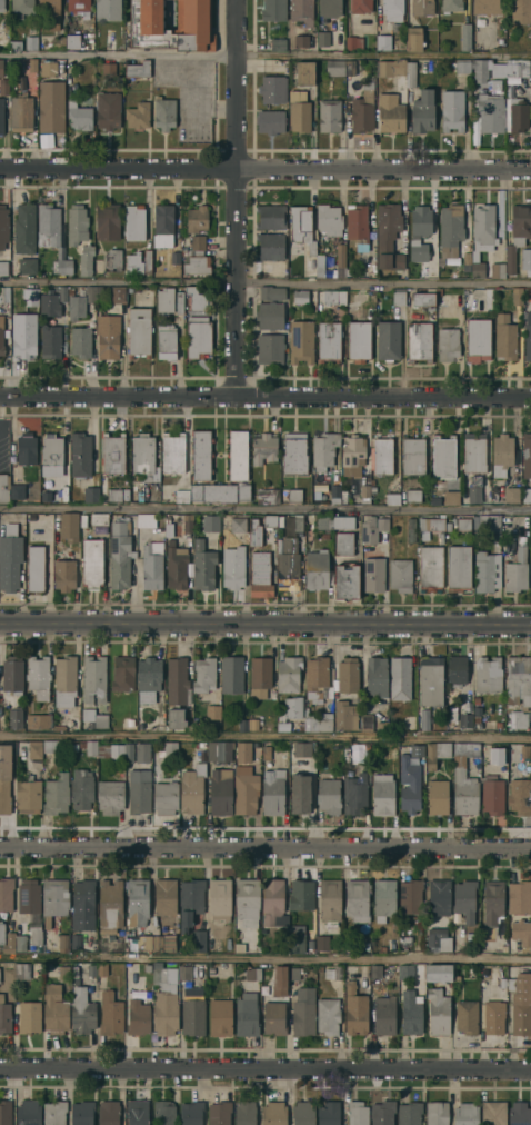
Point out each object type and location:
building: (1, 4)
building: (360, 4)
building: (451, 4)
building: (485, 6)
building: (21, 7)
building: (79, 7)
building: (328, 7)
building: (421, 7)
building: (108, 9)
building: (271, 9)
building: (391, 9)
building: (301, 10)
building: (521, 10)
building: (49, 13)
building: (147, 23)
building: (465, 34)
building: (414, 36)
building: (322, 37)
building: (300, 39)
building: (59, 40)
building: (72, 40)
building: (382, 40)
building: (31, 41)
building: (353, 41)
building: (278, 42)
building: (16, 43)
road: (116, 54)
road: (381, 56)
building: (32, 62)
building: (461, 63)
building: (518, 64)
building: (1, 66)
building: (48, 66)
building: (334, 66)
building: (352, 66)
building: (391, 66)
building: (107, 67)
building: (137, 67)
building: (303, 70)
building: (499, 70)
building: (411, 71)
building: (510, 77)
building: (3, 86)
building: (272, 87)
building: (51, 104)
building: (362, 107)
building: (107, 108)
building: (452, 108)
building: (299, 109)
building: (422, 109)
building: (21, 110)
building: (163, 110)
building: (490, 110)
building: (390, 111)
building: (138, 112)
building: (518, 112)
building: (78, 113)
building: (329, 113)
building: (2, 118)
building: (270, 119)
road: (265, 167)
road: (231, 196)
building: (271, 215)
building: (197, 217)
building: (329, 217)
building: (107, 219)
building: (421, 219)
building: (133, 220)
building: (483, 221)
building: (76, 222)
building: (3, 223)
building: (48, 223)
building: (162, 223)
building: (302, 223)
building: (357, 223)
building: (24, 227)
building: (450, 227)
building: (518, 230)
building: (388, 233)
building: (197, 241)
building: (270, 243)
building: (418, 248)
building: (340, 252)
building: (174, 255)
building: (467, 257)
building: (86, 258)
building: (112, 258)
building: (525, 259)
building: (138, 260)
building: (196, 261)
building: (27, 263)
building: (320, 263)
building: (69, 265)
building: (3, 266)
building: (61, 266)
building: (497, 268)
building: (371, 269)
building: (477, 270)
road: (265, 281)
building: (61, 291)
building: (91, 291)
building: (271, 291)
building: (6, 292)
building: (117, 293)
building: (399, 293)
building: (517, 293)
building: (30, 295)
building: (197, 295)
building: (300, 295)
building: (329, 298)
building: (423, 298)
building: (164, 299)
building: (179, 300)
building: (49, 302)
building: (76, 305)
building: (270, 313)
building: (139, 330)
building: (23, 332)
building: (198, 332)
building: (108, 333)
building: (527, 333)
building: (1, 336)
building: (504, 336)
building: (478, 337)
building: (388, 338)
building: (300, 339)
building: (328, 339)
building: (359, 339)
building: (419, 339)
building: (50, 340)
building: (80, 340)
building: (166, 340)
building: (448, 341)
building: (269, 347)
road: (265, 392)
building: (263, 445)
building: (26, 447)
building: (172, 449)
building: (324, 449)
building: (294, 450)
building: (52, 451)
building: (112, 451)
building: (201, 451)
building: (80, 452)
building: (237, 452)
building: (352, 452)
building: (473, 452)
building: (501, 452)
building: (143, 454)
building: (413, 454)
building: (527, 454)
building: (382, 455)
building: (443, 455)
building: (3, 486)
building: (373, 487)
building: (17, 489)
building: (220, 490)
building: (334, 491)
building: (364, 491)
building: (474, 491)
building: (91, 492)
building: (114, 492)
building: (294, 492)
building: (510, 492)
building: (267, 494)
building: (413, 494)
building: (527, 494)
building: (181, 495)
building: (392, 496)
building: (452, 496)
building: (434, 498)
road: (265, 510)
building: (99, 517)
building: (147, 518)
building: (270, 518)
building: (82, 519)
building: (187, 520)
building: (210, 521)
building: (279, 521)
building: (324, 521)
building: (344, 521)
building: (238, 522)
building: (298, 522)
building: (431, 522)
building: (463, 522)
building: (69, 524)
building: (490, 524)
building: (449, 525)
building: (371, 527)
building: (410, 528)
building: (254, 530)
building: (324, 534)
building: (343, 540)
building: (119, 554)
building: (92, 561)
building: (289, 562)
building: (151, 564)
building: (202, 564)
building: (176, 565)
building: (430, 565)
building: (34, 566)
building: (233, 566)
building: (458, 566)
building: (318, 568)
building: (515, 569)
building: (483, 570)
building: (9, 571)
building: (64, 573)
building: (260, 573)
building: (373, 573)
building: (401, 574)
building: (530, 577)
building: (347, 578)
road: (265, 621)
building: (455, 668)
building: (122, 671)
building: (204, 671)
building: (289, 671)
building: (12, 673)
building: (232, 673)
building: (488, 673)
building: (317, 674)
building: (347, 674)
building: (38, 675)
building: (259, 675)
building: (377, 675)
building: (93, 677)
building: (149, 677)
building: (400, 677)
building: (66, 678)
building: (430, 679)
building: (518, 679)
building: (177, 680)
building: (477, 698)
building: (292, 705)
building: (216, 711)
building: (344, 714)
building: (14, 716)
building: (94, 716)
building: (176, 717)
building: (477, 717)
building: (520, 717)
building: (465, 718)
building: (38, 719)
building: (423, 719)
building: (368, 720)
building: (68, 721)
building: (130, 721)
building: (318, 721)
building: (241, 723)
building: (252, 723)
building: (499, 723)
building: (300, 724)
building: (381, 724)
building: (283, 725)
road: (265, 738)
building: (50, 744)
building: (81, 744)
building: (73, 745)
building: (365, 745)
building: (91, 746)
building: (168, 747)
building: (465, 747)
building: (219, 748)
building: (34, 749)
building: (111, 749)
building: (242, 749)
building: (302, 749)
building: (417, 749)
building: (142, 750)
building: (265, 751)
building: (435, 751)
building: (524, 751)
building: (129, 753)
building: (355, 755)
building: (499, 765)
building: (522, 768)
building: (4, 776)
building: (409, 783)
building: (81, 787)
building: (246, 788)
building: (463, 788)
building: (139, 789)
building: (191, 789)
building: (220, 789)
building: (273, 790)
building: (56, 792)
building: (300, 792)
building: (355, 792)
building: (382, 793)
building: (28, 794)
building: (329, 794)
building: (492, 794)
building: (110, 795)
building: (438, 795)
building: (520, 795)
building: (166, 796)
road: (265, 847)
building: (6, 892)
building: (301, 894)
building: (29, 895)
building: (164, 895)
building: (410, 895)
building: (439, 895)
building: (519, 895)
building: (54, 897)
building: (220, 897)
building: (384, 897)
building: (464, 897)
building: (191, 898)
building: (247, 898)
building: (271, 898)
building: (357, 898)
building: (137, 899)
building: (329, 899)
building: (82, 903)
building: (110, 905)
building: (492, 905)
building: (34, 930)
building: (521, 930)
building: (7, 937)
building: (439, 937)
building: (76, 939)
building: (198, 939)
building: (20, 940)
building: (295, 940)
building: (63, 942)
building: (144, 942)
building: (157, 942)
building: (169, 942)
building: (322, 942)
building: (238, 947)
building: (381, 947)
road: (265, 957)
building: (147, 965)
building: (319, 966)
building: (91, 968)
building: (102, 968)
building: (22, 969)
building: (375, 969)
building: (63, 970)
building: (186, 970)
building: (297, 970)
building: (333, 970)
building: (405, 970)
building: (439, 970)
building: (252, 972)
building: (159, 974)
building: (457, 976)
building: (279, 978)
building: (503, 983)
building: (521, 1003)
building: (54, 1008)
building: (355, 1008)
building: (81, 1009)
building: (438, 1009)
building: (303, 1010)
building: (411, 1010)
building: (110, 1012)
building: (164, 1012)
building: (4, 1014)
building: (328, 1014)
building: (384, 1014)
building: (192, 1015)
building: (220, 1015)
building: (467, 1015)
building: (493, 1015)
building: (29, 1016)
building: (138, 1016)
building: (247, 1016)
building: (273, 1016)
road: (265, 1068)
building: (137, 1111)
building: (4, 1112)
building: (28, 1112)
building: (53, 1112)
building: (81, 1112)
building: (108, 1112)
building: (163, 1112)
building: (191, 1112)
building: (219, 1112)
building: (244, 1112)
building: (303, 1112)
building: (357, 1112)
building: (382, 1112)
building: (493, 1112)
building: (274, 1113)
building: (329, 1113)
building: (410, 1113)
building: (437, 1113)
building: (465, 1113)
building: (519, 1113)

